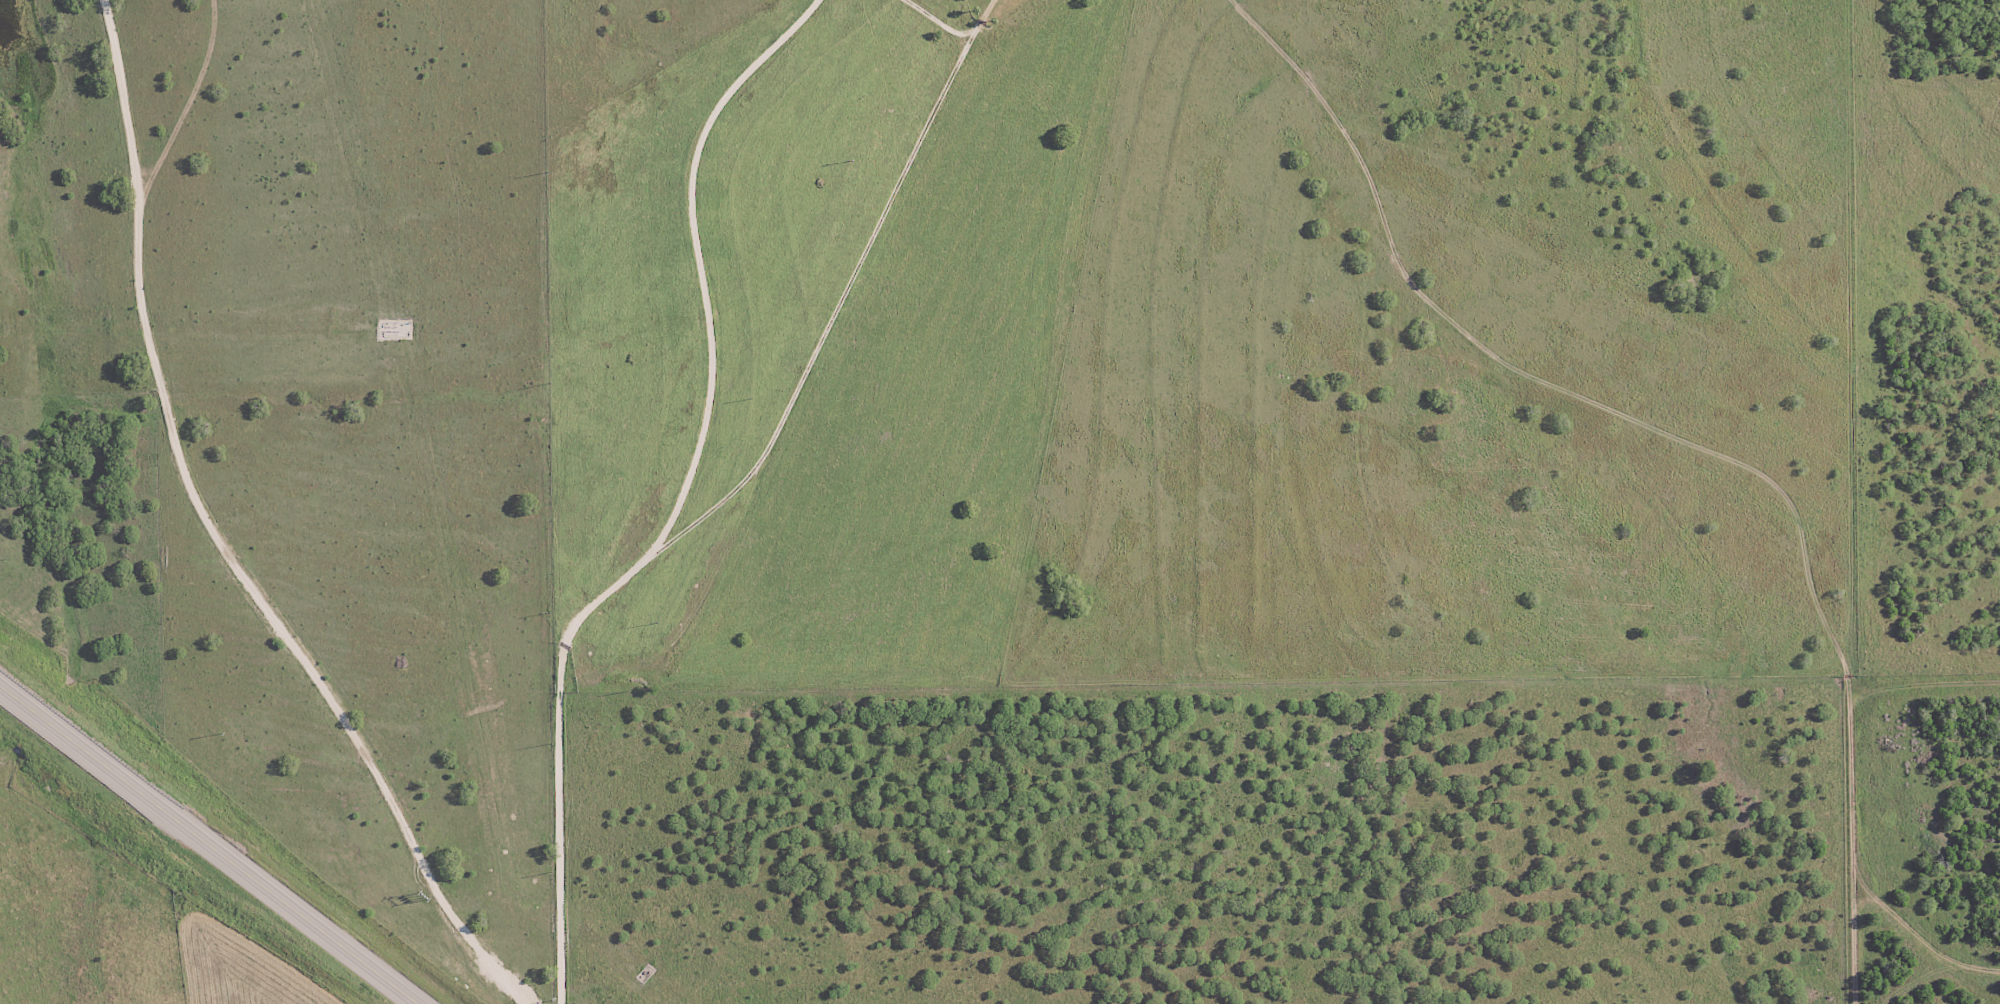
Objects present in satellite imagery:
road: (201, 851)

